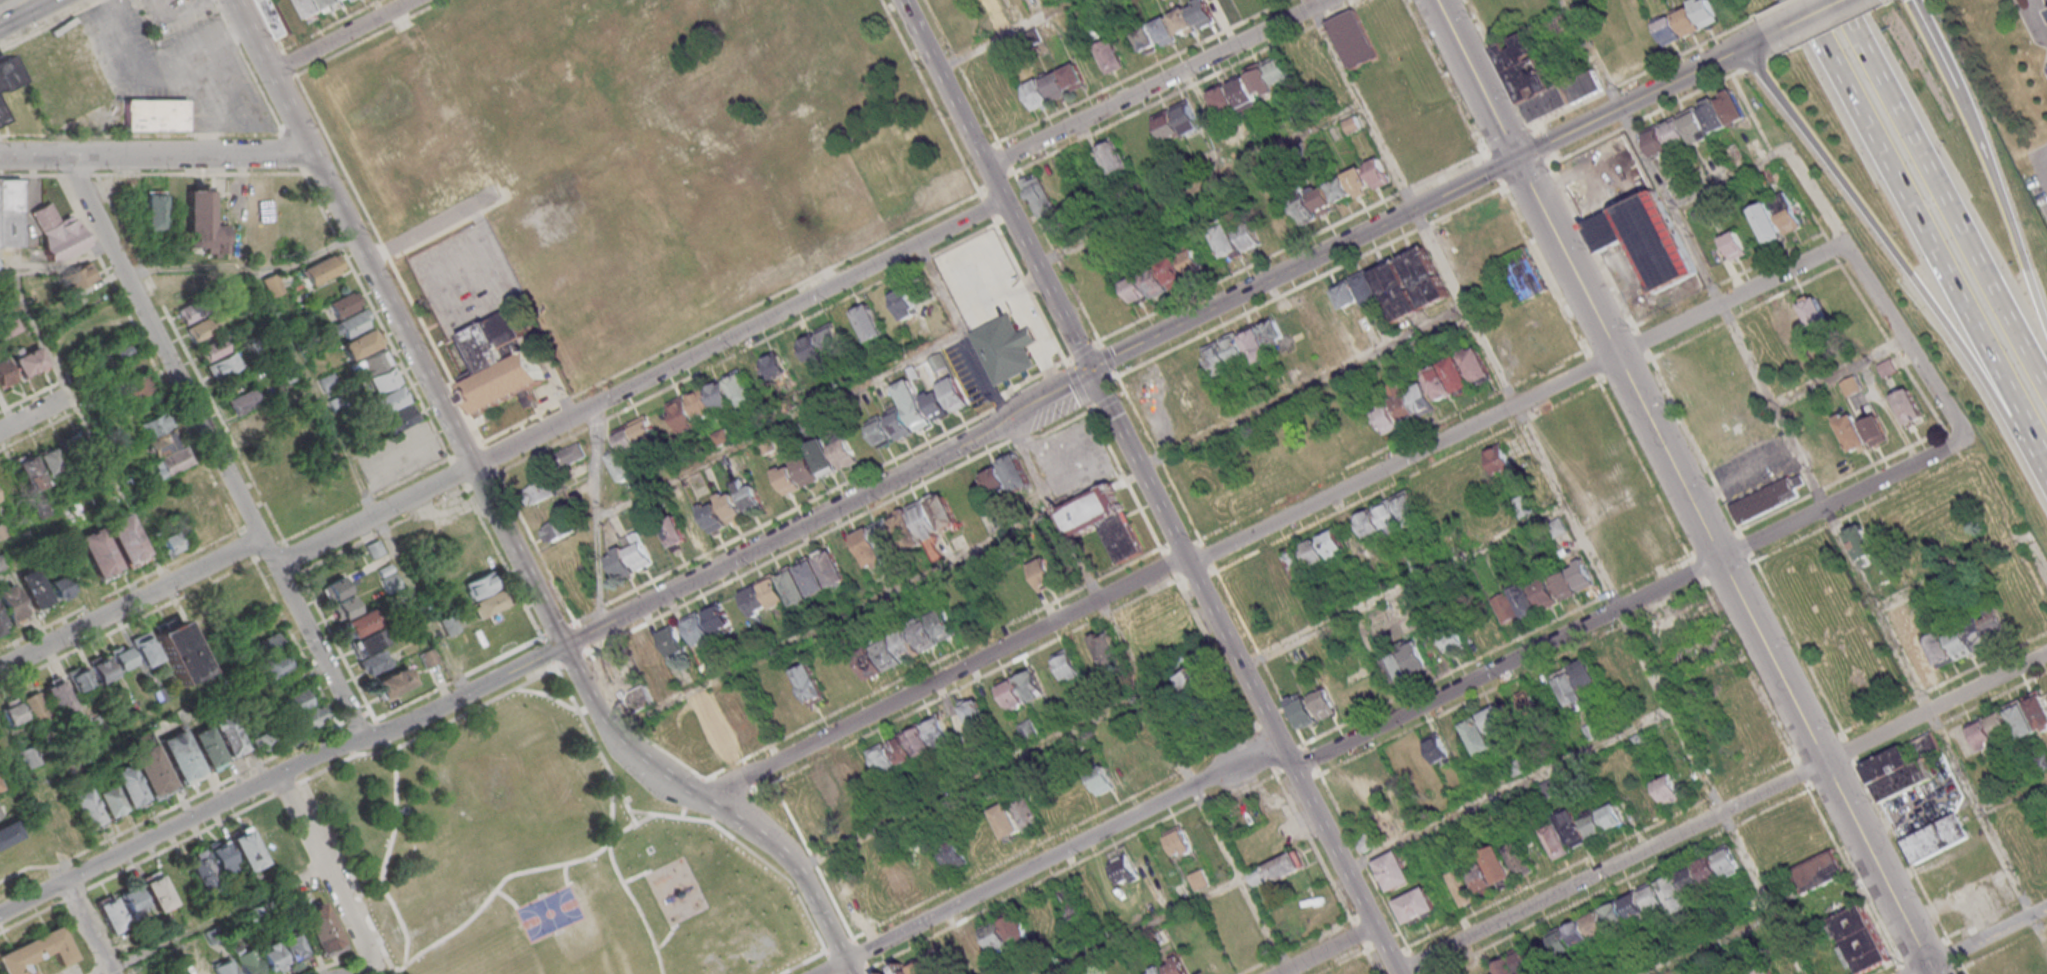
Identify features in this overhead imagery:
building: (183, 0)
building: (187, 0)
building: (349, 1)
building: (939, 3)
road: (1576, 3)
road: (10, 5)
building: (319, 7)
road: (175, 9)
road: (1769, 10)
building: (1201, 12)
road: (2041, 12)
parking lot: (174, 13)
road: (1812, 14)
building: (275, 18)
building: (1182, 21)
building: (1687, 21)
road: (48, 24)
road: (326, 25)
road: (270, 28)
road: (1828, 28)
road: (1012, 30)
building: (1164, 31)
road: (256, 34)
road: (341, 34)
road: (365, 37)
building: (1144, 38)
building: (1353, 40)
road: (214, 41)
road: (1934, 44)
road: (272, 53)
building: (1108, 55)
parking lot: (170, 60)
road: (288, 62)
road: (1756, 63)
road: (943, 64)
road: (249, 66)
road: (1502, 66)
building: (1525, 67)
road: (162, 68)
building: (62, 73)
building: (631, 73)
road: (1138, 73)
road: (1637, 74)
building: (5, 75)
road: (285, 78)
road: (1446, 78)
road: (1476, 79)
building: (1063, 81)
road: (1159, 82)
building: (1259, 82)
road: (1176, 93)
road: (1648, 93)
building: (1221, 97)
road: (931, 99)
building: (1026, 99)
road: (1363, 103)
road: (1643, 116)
building: (159, 117)
building: (1176, 121)
road: (319, 124)
building: (1696, 124)
road: (300, 128)
road: (142, 134)
road: (1508, 138)
road: (1541, 143)
road: (984, 147)
road: (293, 149)
road: (2042, 153)
road: (157, 155)
building: (1112, 156)
traffic signals: (1515, 158)
road: (2042, 163)
parking lot: (2044, 163)
road: (1492, 168)
road: (318, 171)
road: (201, 172)
road: (1013, 172)
road: (33, 173)
road: (79, 173)
road: (1526, 174)
road: (1728, 177)
road: (1201, 183)
road: (998, 185)
building: (1350, 186)
road: (981, 187)
building: (1039, 195)
road: (1940, 197)
building: (256, 204)
road: (987, 207)
building: (1302, 208)
road: (2003, 208)
building: (11, 212)
road: (1909, 215)
building: (157, 216)
road: (1008, 217)
building: (1776, 219)
building: (207, 223)
road: (427, 227)
building: (59, 232)
building: (1248, 236)
road: (966, 237)
building: (1224, 238)
road: (1881, 240)
building: (1656, 242)
building: (1734, 244)
road: (1290, 245)
road: (387, 257)
road: (925, 257)
road: (66, 264)
road: (1303, 264)
road: (246, 267)
road: (1841, 268)
building: (322, 269)
building: (1525, 275)
building: (1163, 277)
building: (80, 278)
parking lot: (465, 278)
road: (1311, 279)
parking lot: (982, 280)
building: (1412, 284)
building: (273, 285)
road: (1029, 290)
building: (1358, 291)
building: (180, 292)
road: (1874, 292)
building: (904, 302)
building: (345, 304)
road: (13, 308)
building: (1306, 309)
road: (374, 311)
building: (189, 312)
building: (1803, 317)
road: (727, 318)
building: (868, 322)
building: (203, 329)
road: (962, 329)
building: (356, 334)
building: (830, 336)
road: (762, 338)
building: (1263, 339)
road: (1644, 345)
building: (811, 347)
building: (214, 348)
building: (1005, 351)
road: (1083, 351)
building: (1225, 353)
road: (1106, 356)
building: (29, 362)
building: (937, 362)
building: (369, 363)
building: (502, 364)
building: (773, 364)
building: (223, 365)
building: (1887, 367)
traffic signals: (1093, 372)
building: (1457, 373)
road: (1839, 373)
building: (6, 374)
road: (1038, 375)
road: (1084, 376)
road: (1117, 378)
building: (1182, 380)
road: (641, 381)
road: (1076, 384)
building: (1850, 386)
building: (136, 387)
building: (740, 387)
road: (1507, 388)
road: (1304, 389)
building: (953, 394)
road: (33, 396)
road: (1106, 399)
building: (390, 400)
road: (998, 400)
building: (242, 401)
building: (530, 401)
building: (1411, 401)
road: (1514, 404)
building: (700, 405)
building: (912, 405)
building: (935, 405)
building: (1908, 407)
road: (37, 415)
building: (1385, 418)
road: (1523, 419)
road: (596, 421)
road: (1060, 423)
building: (250, 424)
road: (780, 424)
building: (807, 428)
building: (888, 428)
building: (1860, 431)
road: (36, 432)
road: (1020, 437)
building: (631, 444)
building: (164, 446)
road: (217, 446)
road: (539, 449)
road: (2036, 449)
road: (199, 451)
road: (240, 453)
building: (571, 454)
road: (489, 455)
road: (1800, 456)
building: (1499, 458)
road: (449, 459)
parking lot: (1072, 460)
building: (49, 461)
building: (814, 464)
road: (1163, 468)
building: (29, 472)
road: (456, 472)
building: (1014, 472)
road: (1646, 472)
road: (112, 474)
road: (487, 476)
road: (359, 479)
road: (1124, 479)
building: (540, 491)
building: (749, 496)
building: (1767, 498)
building: (191, 499)
building: (730, 506)
road: (798, 506)
building: (1094, 509)
building: (1409, 509)
road: (597, 515)
building: (712, 515)
road: (821, 516)
road: (60, 518)
building: (1378, 518)
building: (1895, 521)
road: (2009, 528)
building: (557, 529)
building: (673, 530)
building: (1125, 537)
building: (886, 538)
building: (126, 540)
road: (1179, 542)
building: (1333, 542)
building: (170, 543)
building: (1860, 543)
road: (535, 544)
road: (1748, 544)
road: (795, 546)
building: (373, 548)
building: (869, 549)
building: (1314, 552)
building: (98, 553)
road: (1206, 553)
building: (630, 556)
road: (2035, 557)
road: (520, 558)
road: (503, 562)
building: (1295, 562)
road: (1168, 563)
road: (1726, 564)
road: (238, 565)
road: (1949, 571)
building: (1042, 572)
building: (812, 577)
building: (388, 578)
road: (1198, 579)
building: (1271, 582)
building: (480, 584)
building: (59, 586)
road: (1184, 586)
road: (119, 587)
road: (1405, 587)
building: (33, 589)
building: (335, 589)
road: (1612, 589)
building: (236, 590)
road: (1614, 592)
building: (764, 596)
building: (1534, 596)
road: (131, 602)
building: (11, 604)
building: (489, 604)
road: (1626, 605)
road: (598, 607)
building: (1505, 608)
road: (580, 615)
building: (353, 617)
road: (1635, 617)
building: (718, 618)
road: (832, 620)
building: (1, 625)
park: (1837, 626)
road: (556, 628)
building: (697, 628)
road: (579, 634)
building: (1961, 636)
building: (672, 641)
building: (366, 642)
building: (1454, 642)
building: (903, 644)
building: (144, 648)
building: (1107, 651)
road: (549, 652)
road: (1212, 652)
building: (182, 654)
road: (1803, 654)
building: (270, 655)
building: (648, 655)
building: (120, 656)
road: (571, 658)
road: (933, 661)
building: (375, 662)
road: (1262, 663)
building: (1406, 663)
building: (1067, 665)
building: (101, 669)
road: (1243, 673)
road: (456, 677)
road: (942, 677)
building: (77, 678)
building: (1193, 679)
building: (1575, 681)
building: (392, 682)
building: (810, 684)
road: (961, 686)
building: (1022, 688)
building: (56, 695)
road: (555, 698)
building: (641, 700)
building: (1323, 702)
building: (294, 703)
building: (1529, 703)
road: (1153, 705)
building: (35, 707)
building: (973, 709)
building: (1301, 710)
building: (12, 714)
road: (1952, 716)
building: (2020, 719)
building: (307, 720)
road: (356, 721)
road: (630, 722)
road: (121, 727)
building: (1029, 728)
building: (1592, 728)
road: (242, 729)
building: (1483, 729)
building: (729, 730)
building: (938, 731)
building: (1981, 734)
building: (227, 735)
road: (1216, 738)
building: (268, 739)
road: (347, 741)
road: (387, 741)
building: (911, 745)
building: (1927, 745)
building: (207, 748)
building: (1437, 748)
road: (1263, 749)
building: (181, 757)
building: (882, 760)
building: (2041, 762)
road: (1184, 766)
building: (1517, 766)
road: (297, 769)
road: (322, 769)
building: (151, 771)
road: (278, 772)
road: (1798, 772)
building: (2022, 772)
building: (1895, 774)
building: (846, 777)
road: (972, 780)
building: (1101, 780)
road: (691, 783)
building: (1373, 784)
building: (128, 787)
building: (827, 787)
building: (1668, 788)
road: (1507, 789)
road: (1242, 790)
road: (1723, 790)
building: (108, 799)
road: (1200, 799)
road: (734, 800)
road: (37, 801)
road: (173, 804)
building: (85, 808)
road: (391, 809)
road: (1721, 811)
building: (0, 814)
road: (675, 815)
building: (1006, 820)
road: (638, 821)
building: (1603, 821)
building: (1571, 828)
building: (8, 834)
building: (1934, 838)
building: (1554, 840)
building: (1180, 842)
road: (1312, 845)
building: (245, 848)
road: (1901, 849)
road: (1061, 851)
building: (951, 853)
building: (221, 857)
building: (1518, 857)
road: (383, 860)
road: (1362, 860)
road: (329, 865)
building: (1285, 865)
building: (1124, 868)
road: (1645, 869)
building: (1490, 870)
building: (199, 871)
road: (978, 872)
building: (1393, 872)
building: (1817, 873)
road: (346, 874)
road: (564, 874)
road: (635, 875)
road: (504, 877)
building: (1699, 877)
road: (1852, 877)
road: (620, 879)
building: (1199, 879)
building: (897, 880)
road: (1026, 886)
building: (1462, 886)
building: (157, 892)
road: (75, 893)
road: (506, 897)
building: (1642, 900)
building: (132, 904)
building: (1416, 904)
building: (1071, 906)
road: (1996, 911)
park: (548, 912)
building: (1614, 913)
road: (32, 915)
building: (111, 915)
road: (213, 918)
building: (1595, 923)
road: (1143, 925)
road: (1, 926)
road: (90, 926)
building: (321, 931)
building: (1576, 932)
road: (1357, 934)
road: (1986, 935)
road: (667, 936)
building: (994, 938)
building: (1860, 939)
building: (1559, 941)
road: (1712, 943)
building: (292, 948)
road: (1995, 948)
road: (1325, 949)
building: (36, 951)
road: (1394, 952)
road: (1906, 954)
road: (1957, 957)
building: (271, 958)
road: (1369, 958)
building: (247, 960)
road: (338, 960)
building: (1523, 960)
road: (1415, 962)
building: (1174, 965)
building: (1503, 966)
road: (362, 967)
road: (832, 967)
building: (223, 968)
building: (913, 968)
building: (1764, 970)
road: (1918, 970)
building: (206, 972)
road: (1420, 972)
building: (886, 973)

